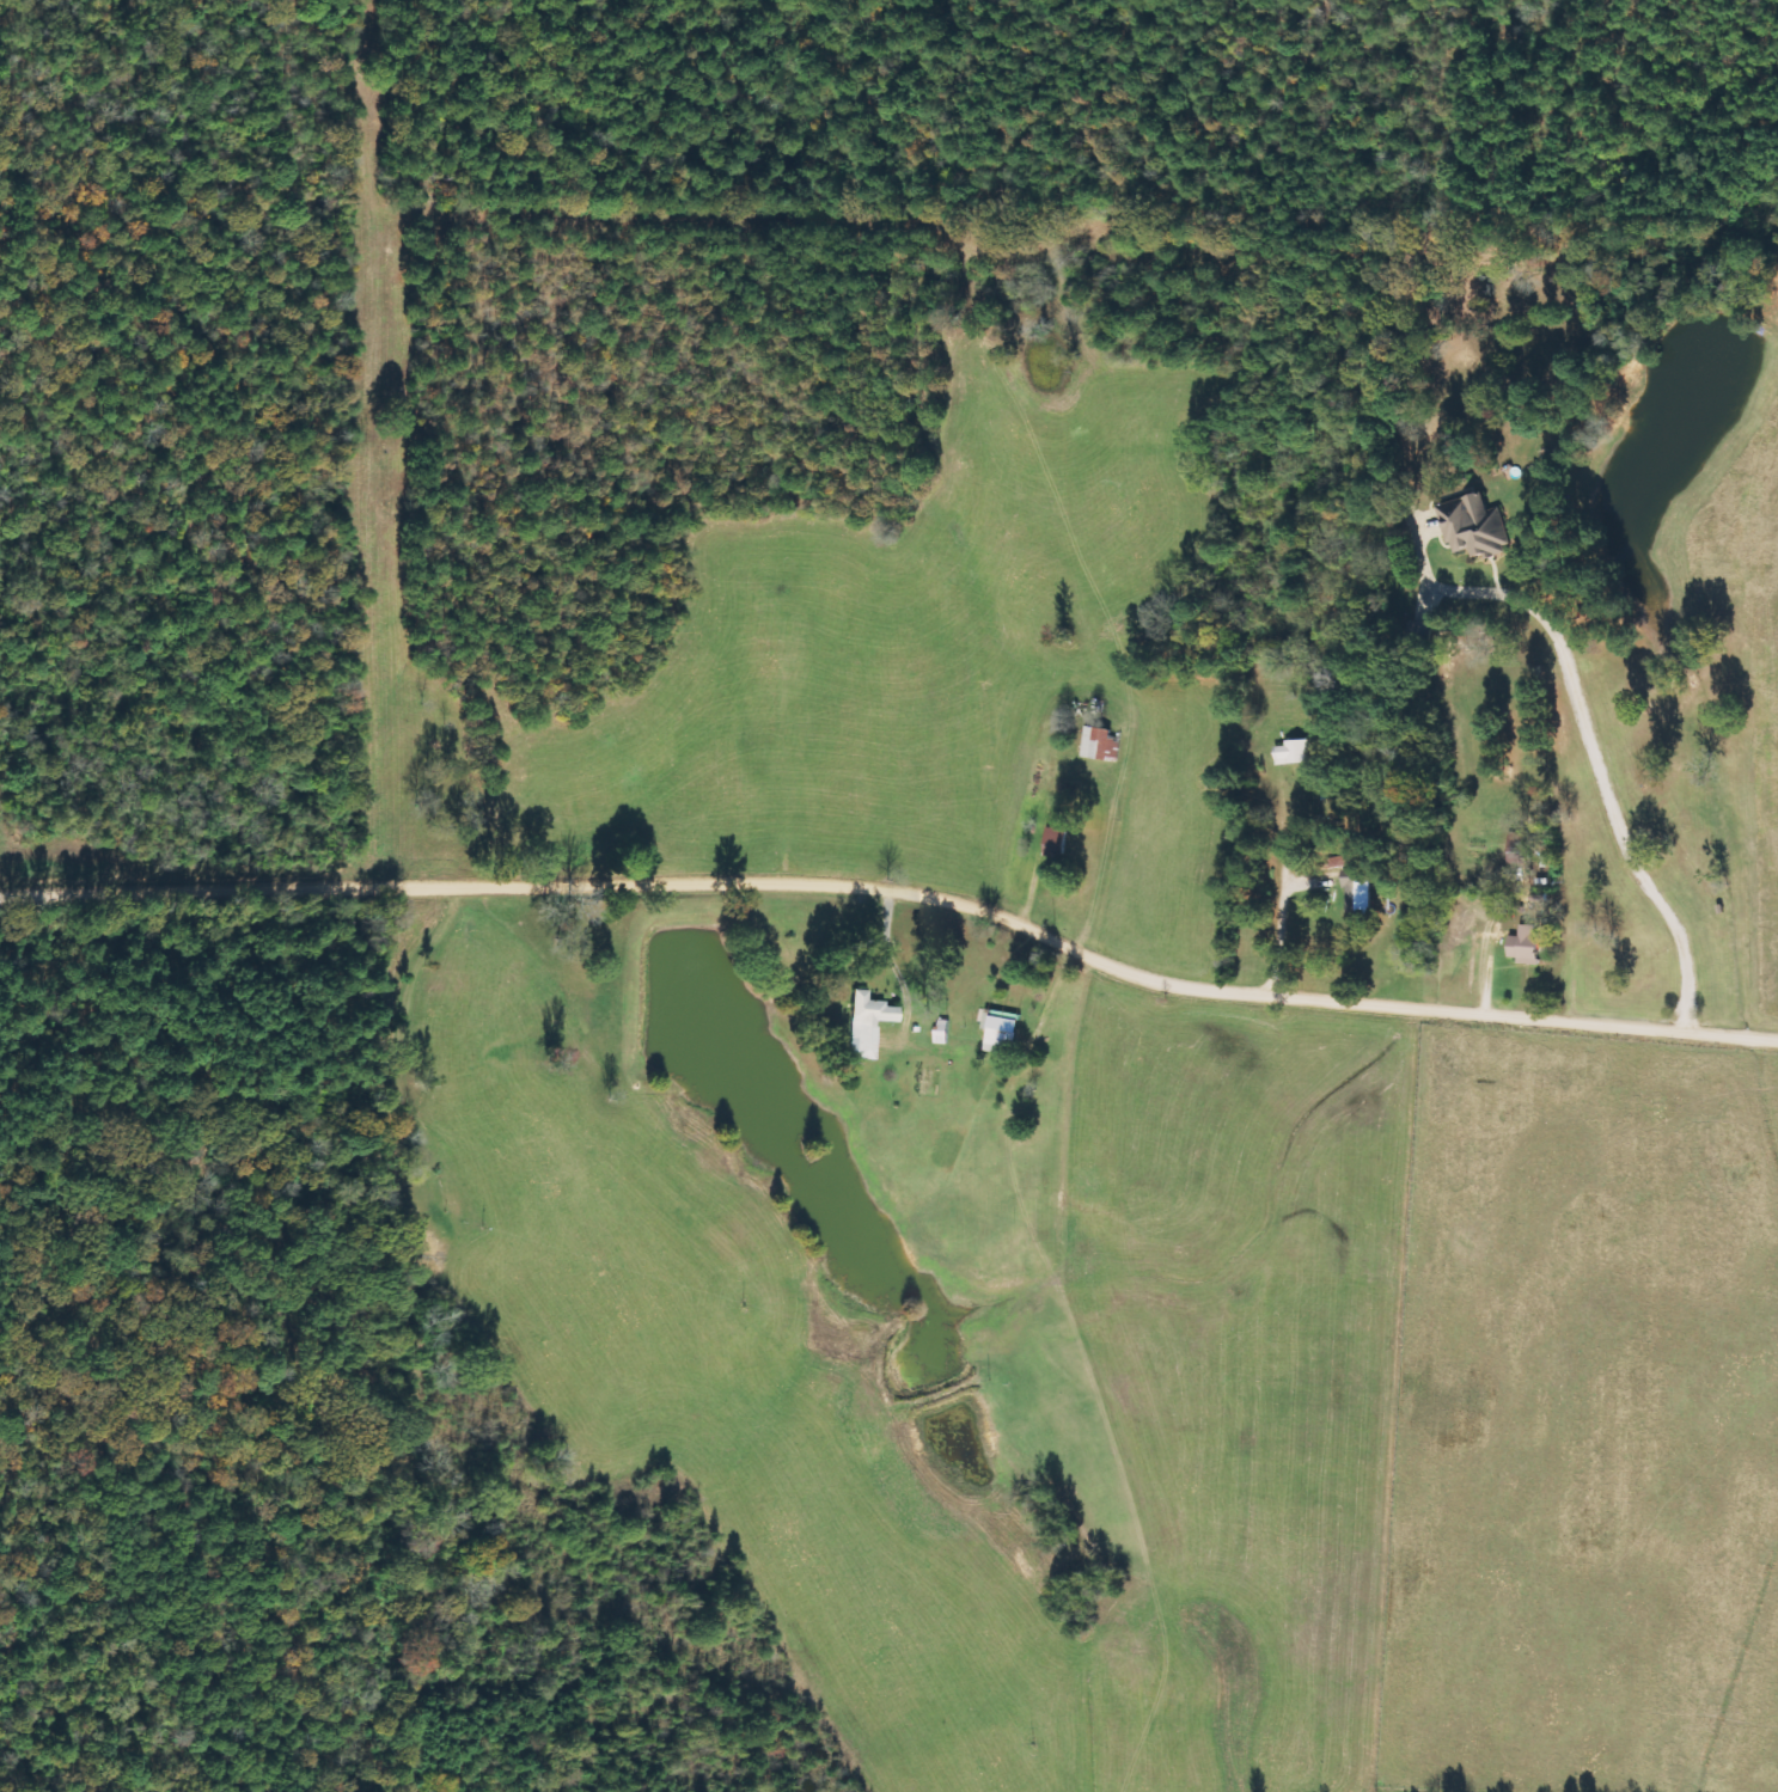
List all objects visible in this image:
building: (1474, 527)
building: (1101, 744)
building: (1293, 752)
building: (1056, 840)
building: (1354, 886)
road: (897, 891)
building: (1525, 944)
building: (868, 1025)
building: (1002, 1034)

